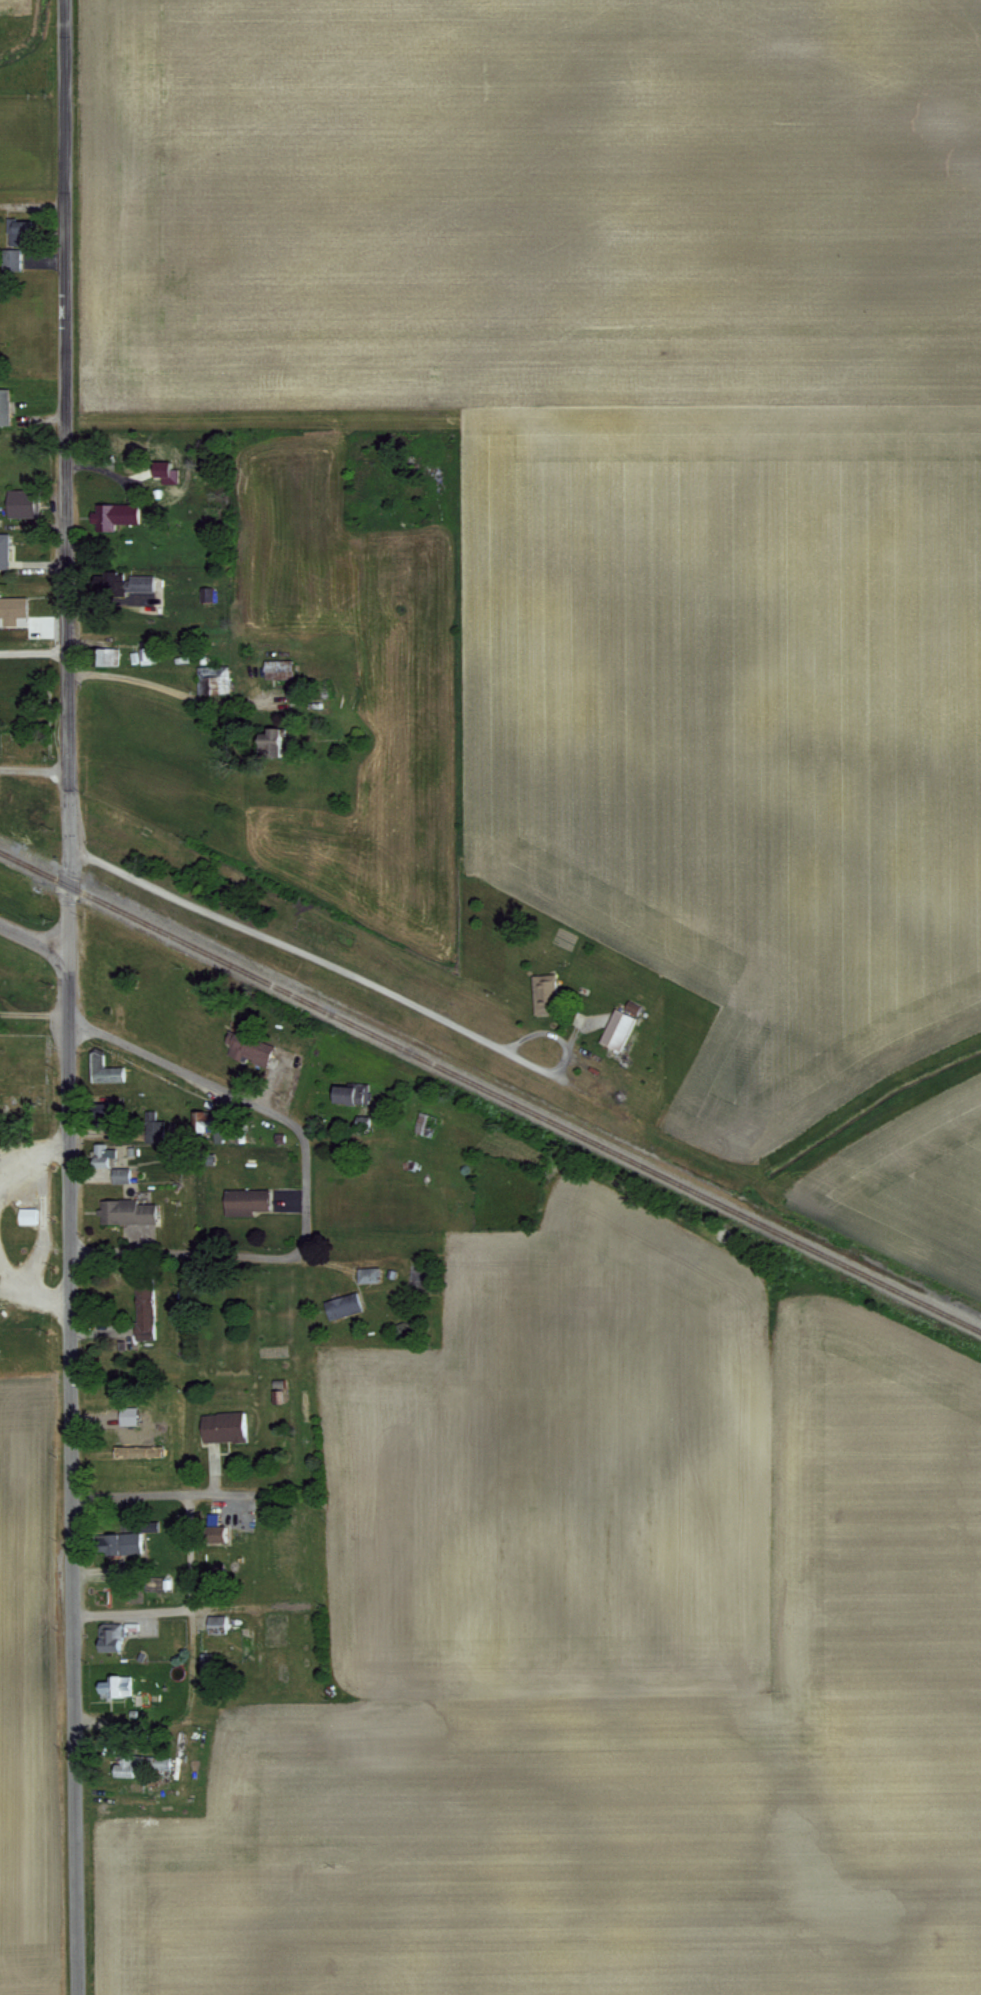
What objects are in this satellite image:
building: (22, 231)
building: (6, 405)
building: (24, 501)
crop: (19, 509)
building: (119, 513)
building: (6, 549)
building: (126, 580)
building: (204, 591)
building: (10, 606)
road: (33, 649)
building: (137, 652)
building: (104, 653)
building: (276, 666)
building: (218, 678)
road: (171, 686)
building: (267, 740)
road: (33, 767)
road: (32, 939)
road: (362, 978)
building: (541, 991)
road: (66, 997)
road: (32, 1011)
building: (615, 1027)
building: (249, 1045)
building: (102, 1067)
road: (181, 1068)
railway: (490, 1089)
building: (348, 1091)
building: (198, 1118)
building: (150, 1125)
building: (117, 1172)
building: (242, 1198)
building: (124, 1211)
building: (25, 1213)
road: (180, 1249)
building: (365, 1272)
building: (341, 1303)
building: (125, 1413)
building: (221, 1424)
building: (134, 1449)
road: (165, 1495)
building: (208, 1521)
building: (118, 1538)
road: (131, 1610)
building: (214, 1622)
building: (106, 1635)
building: (112, 1683)
road: (181, 1716)
building: (159, 1761)
building: (121, 1765)

